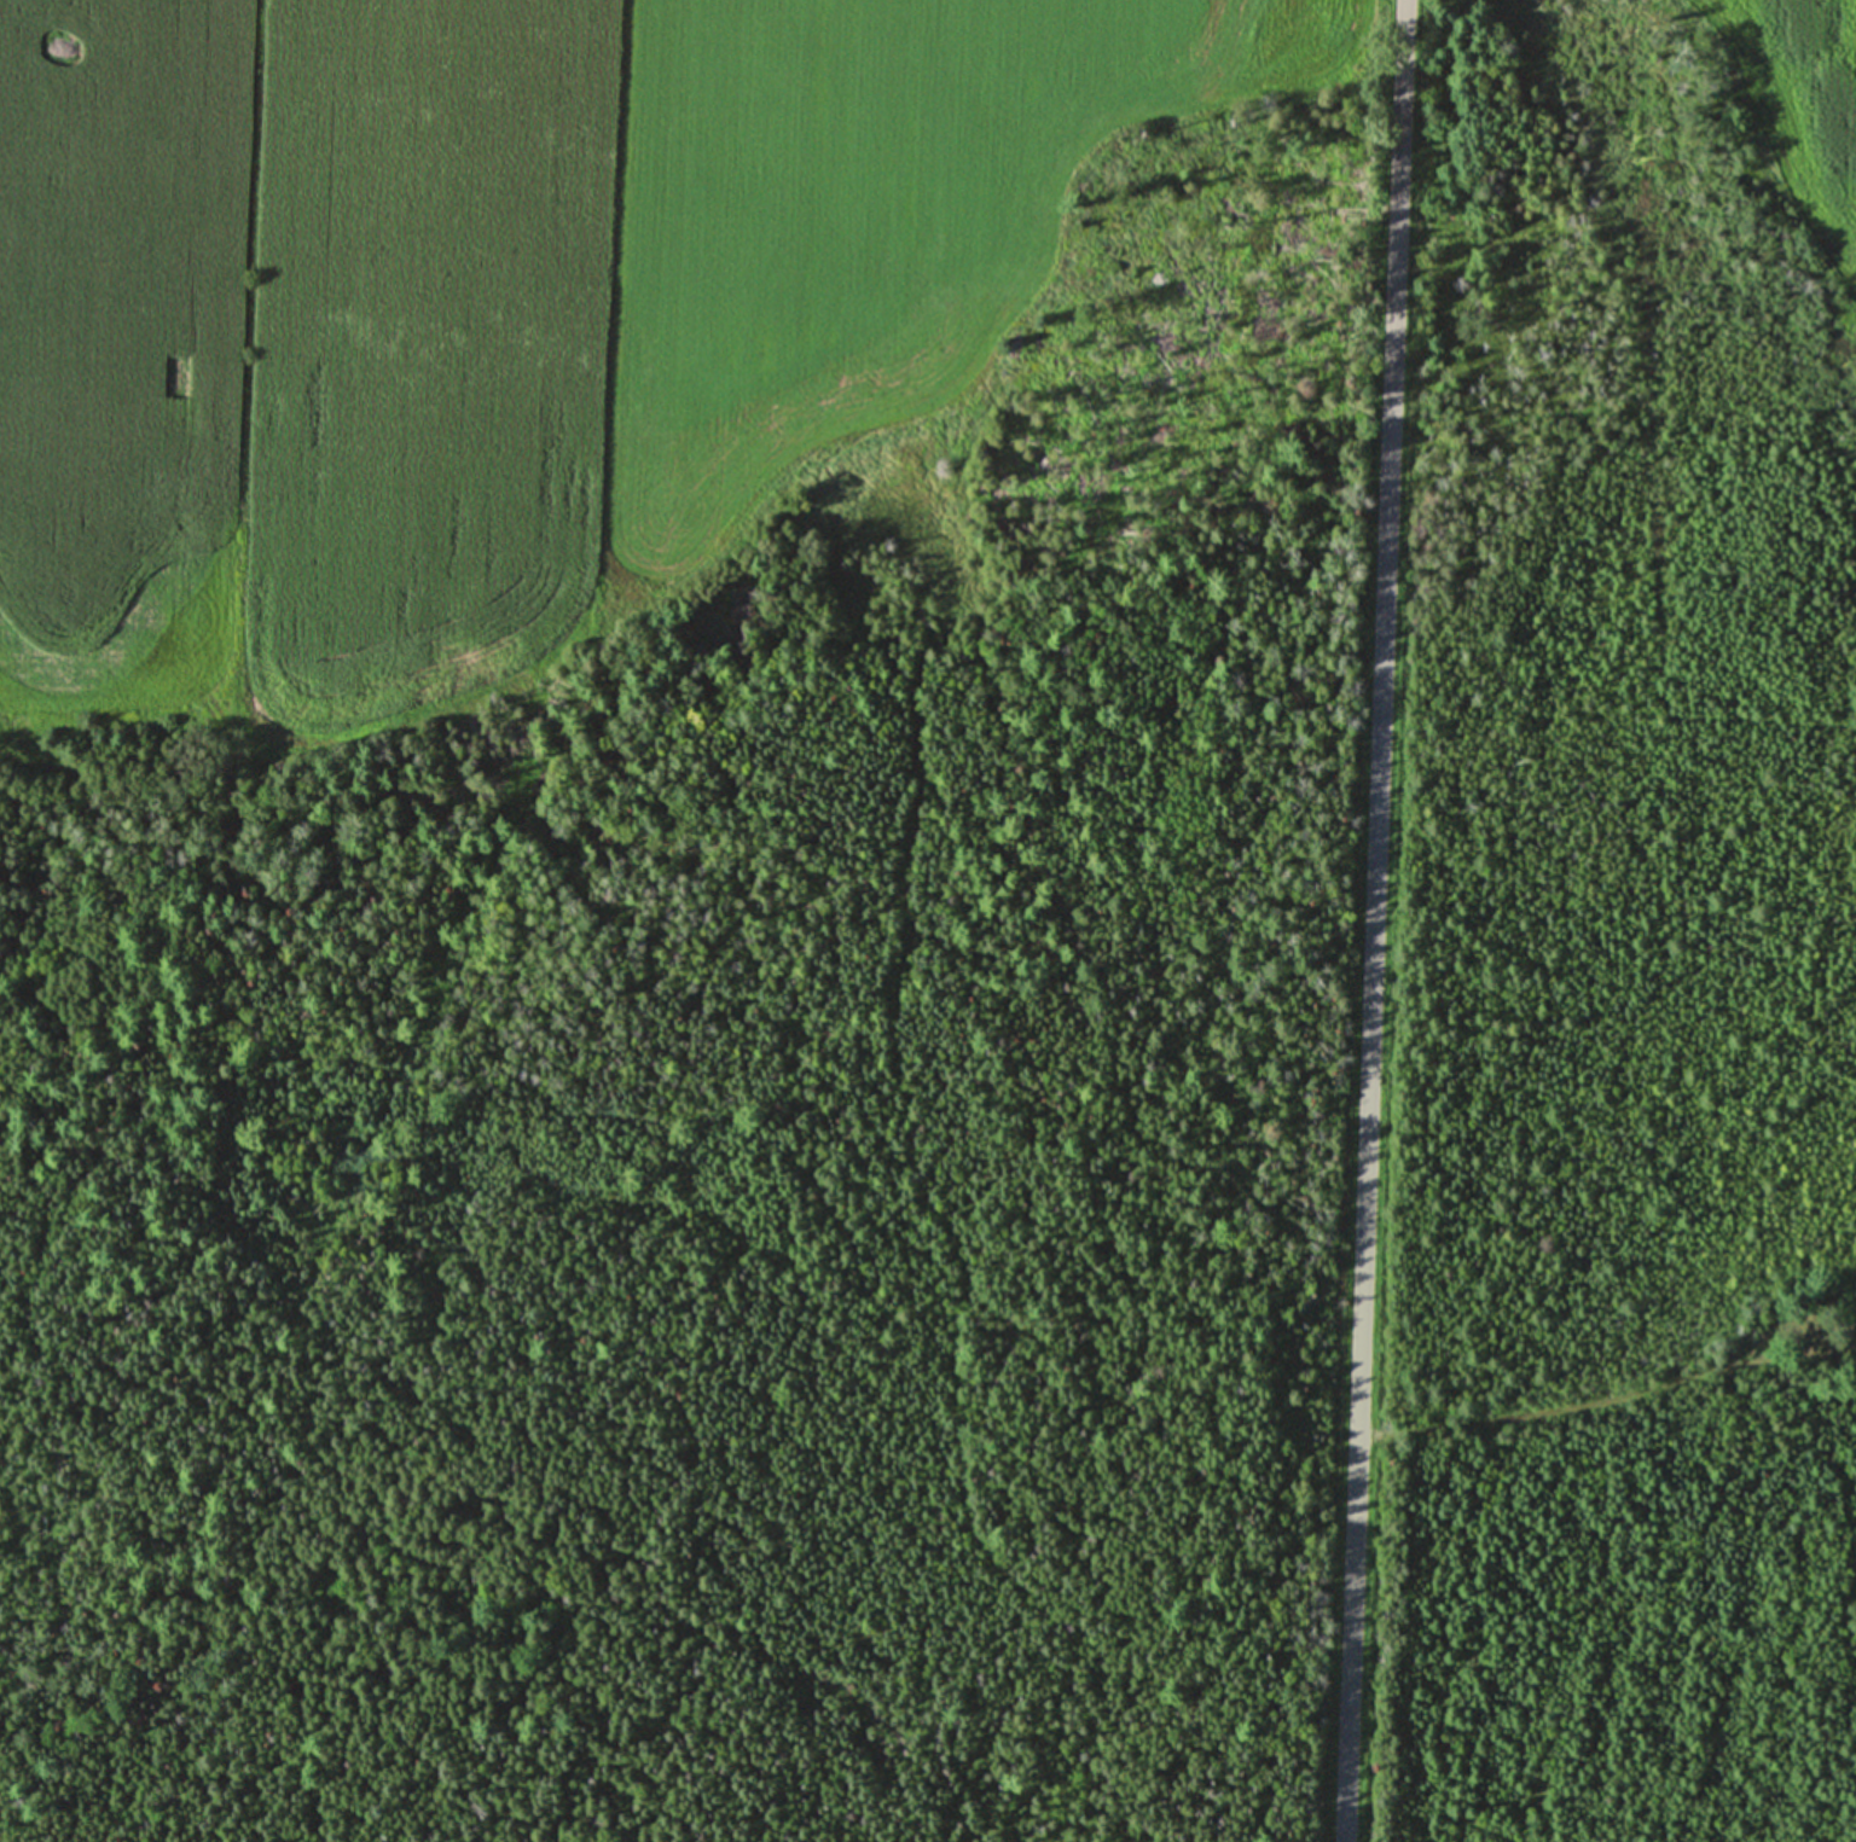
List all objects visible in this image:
road: (1371, 920)
road: (1611, 1398)

